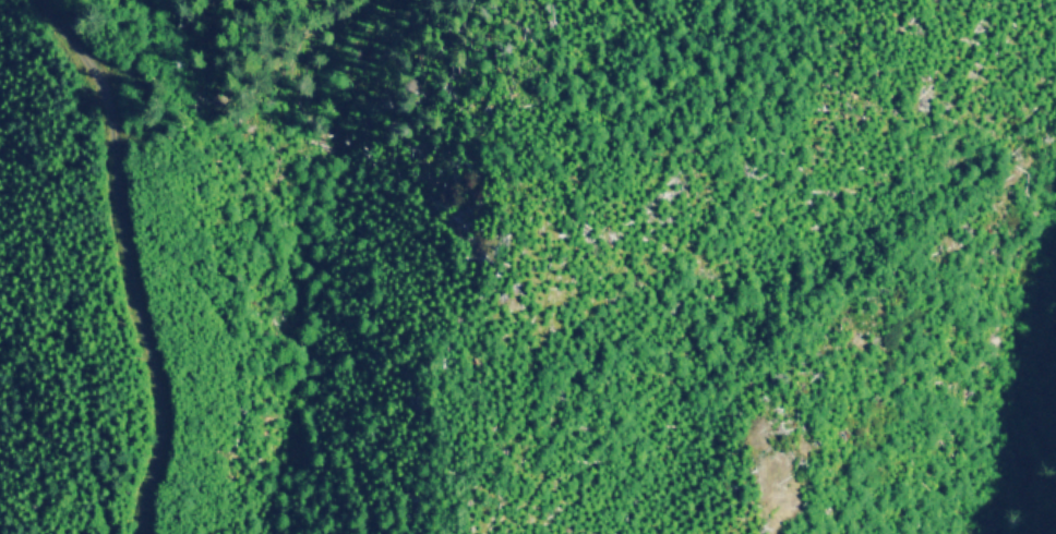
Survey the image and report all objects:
road: (131, 259)

